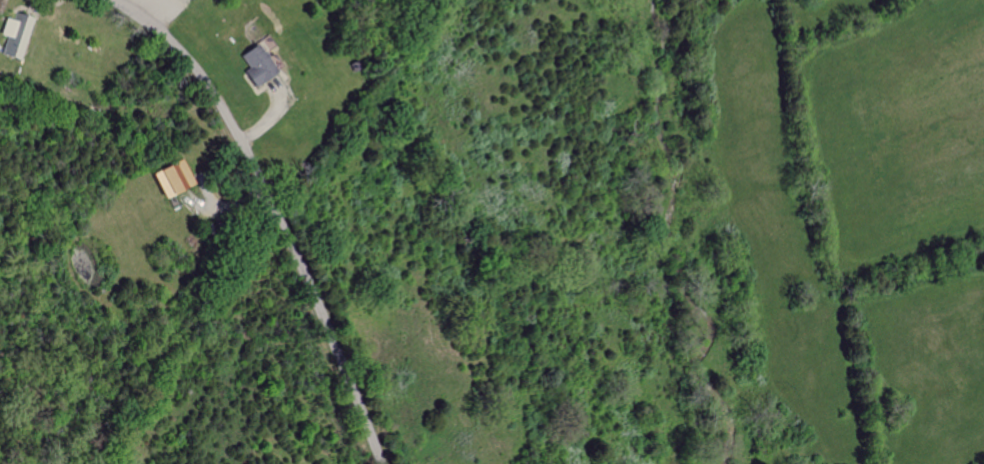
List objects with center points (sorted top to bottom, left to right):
building: (15, 37)
building: (252, 66)
building: (171, 178)
road: (272, 209)

